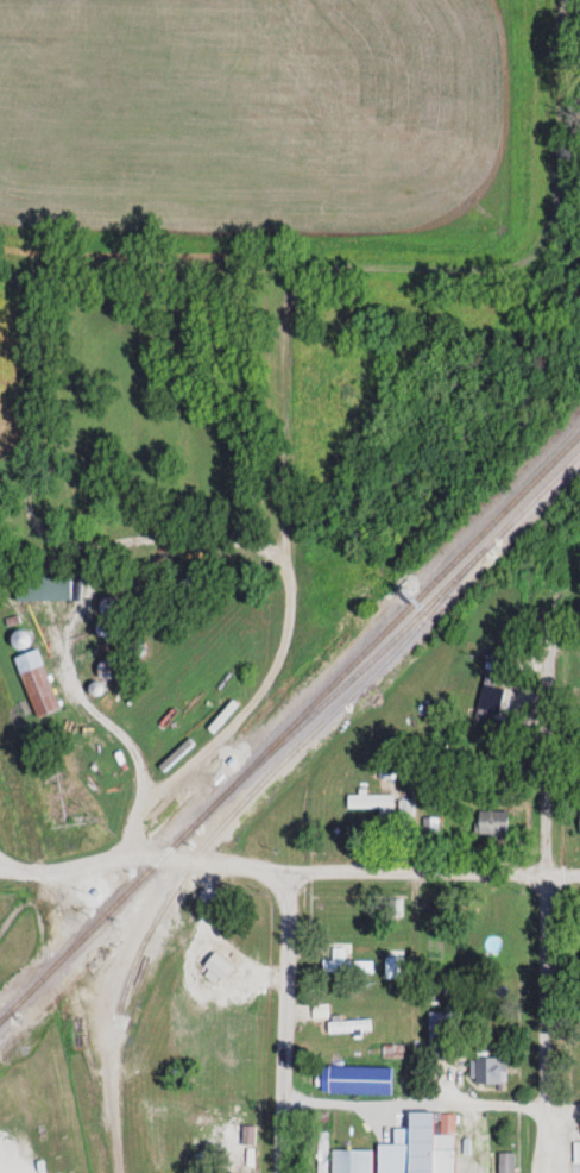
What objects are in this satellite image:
road: (179, 548)
building: (42, 588)
road: (289, 595)
building: (105, 629)
railway: (390, 640)
building: (36, 683)
road: (76, 686)
building: (488, 711)
railway: (289, 727)
railway: (266, 776)
building: (370, 802)
building: (491, 821)
building: (430, 826)
road: (126, 842)
road: (288, 874)
building: (393, 907)
building: (335, 961)
building: (360, 967)
road: (537, 973)
railway: (4, 1016)
road: (283, 1023)
building: (442, 1034)
building: (490, 1071)
building: (397, 1085)
building: (353, 1087)
road: (430, 1100)
building: (430, 1142)
building: (321, 1152)
building: (484, 1154)
building: (351, 1161)
building: (505, 1162)
building: (575, 1167)

